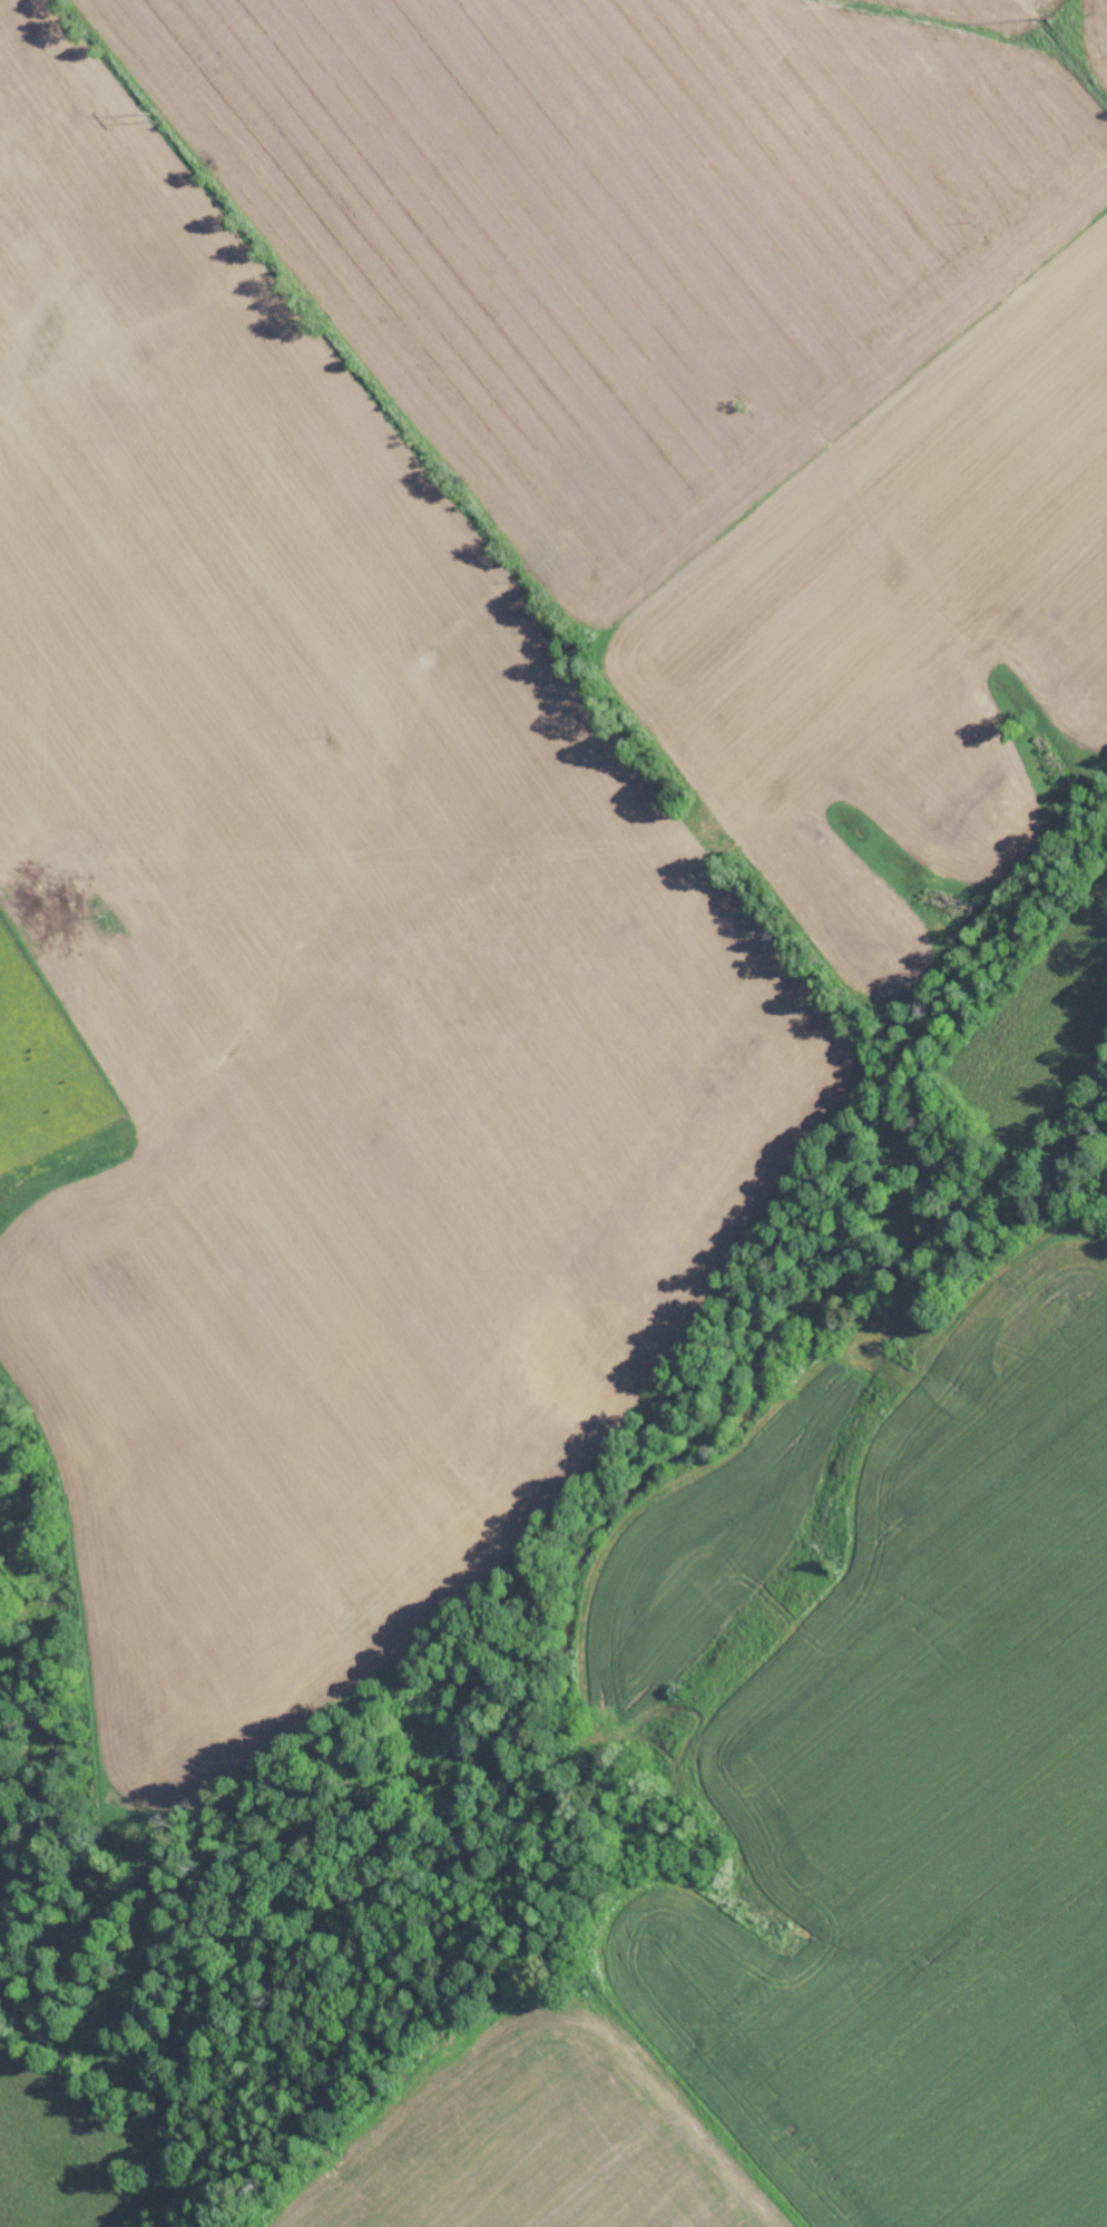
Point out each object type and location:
power tower: (156, 115)

